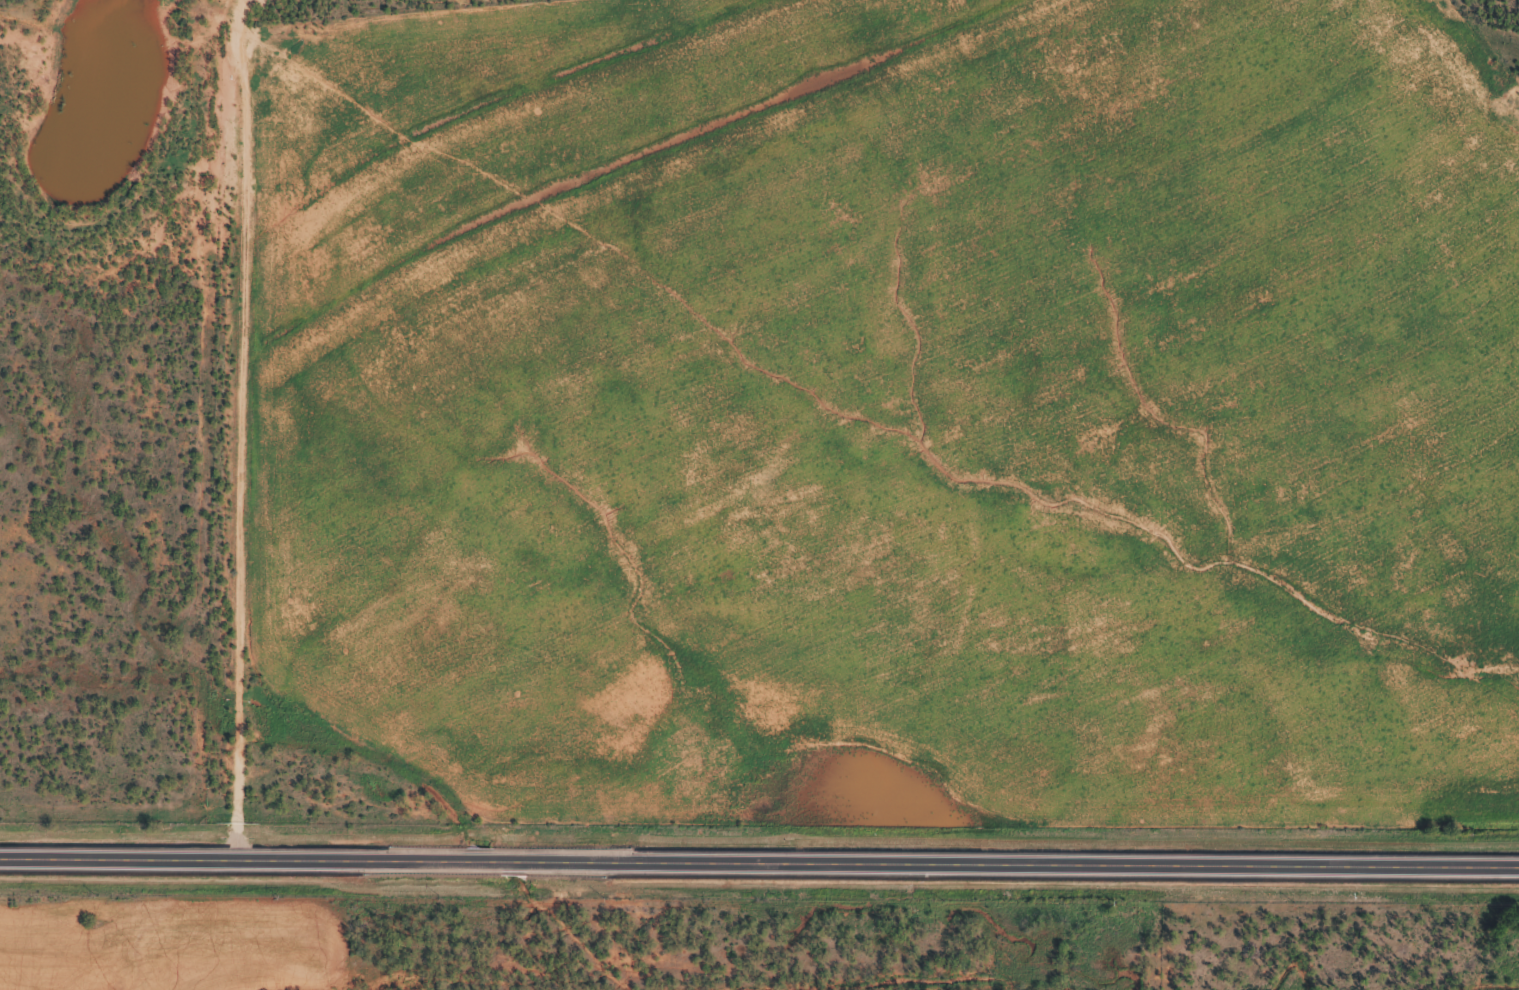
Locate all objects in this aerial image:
road: (759, 871)

